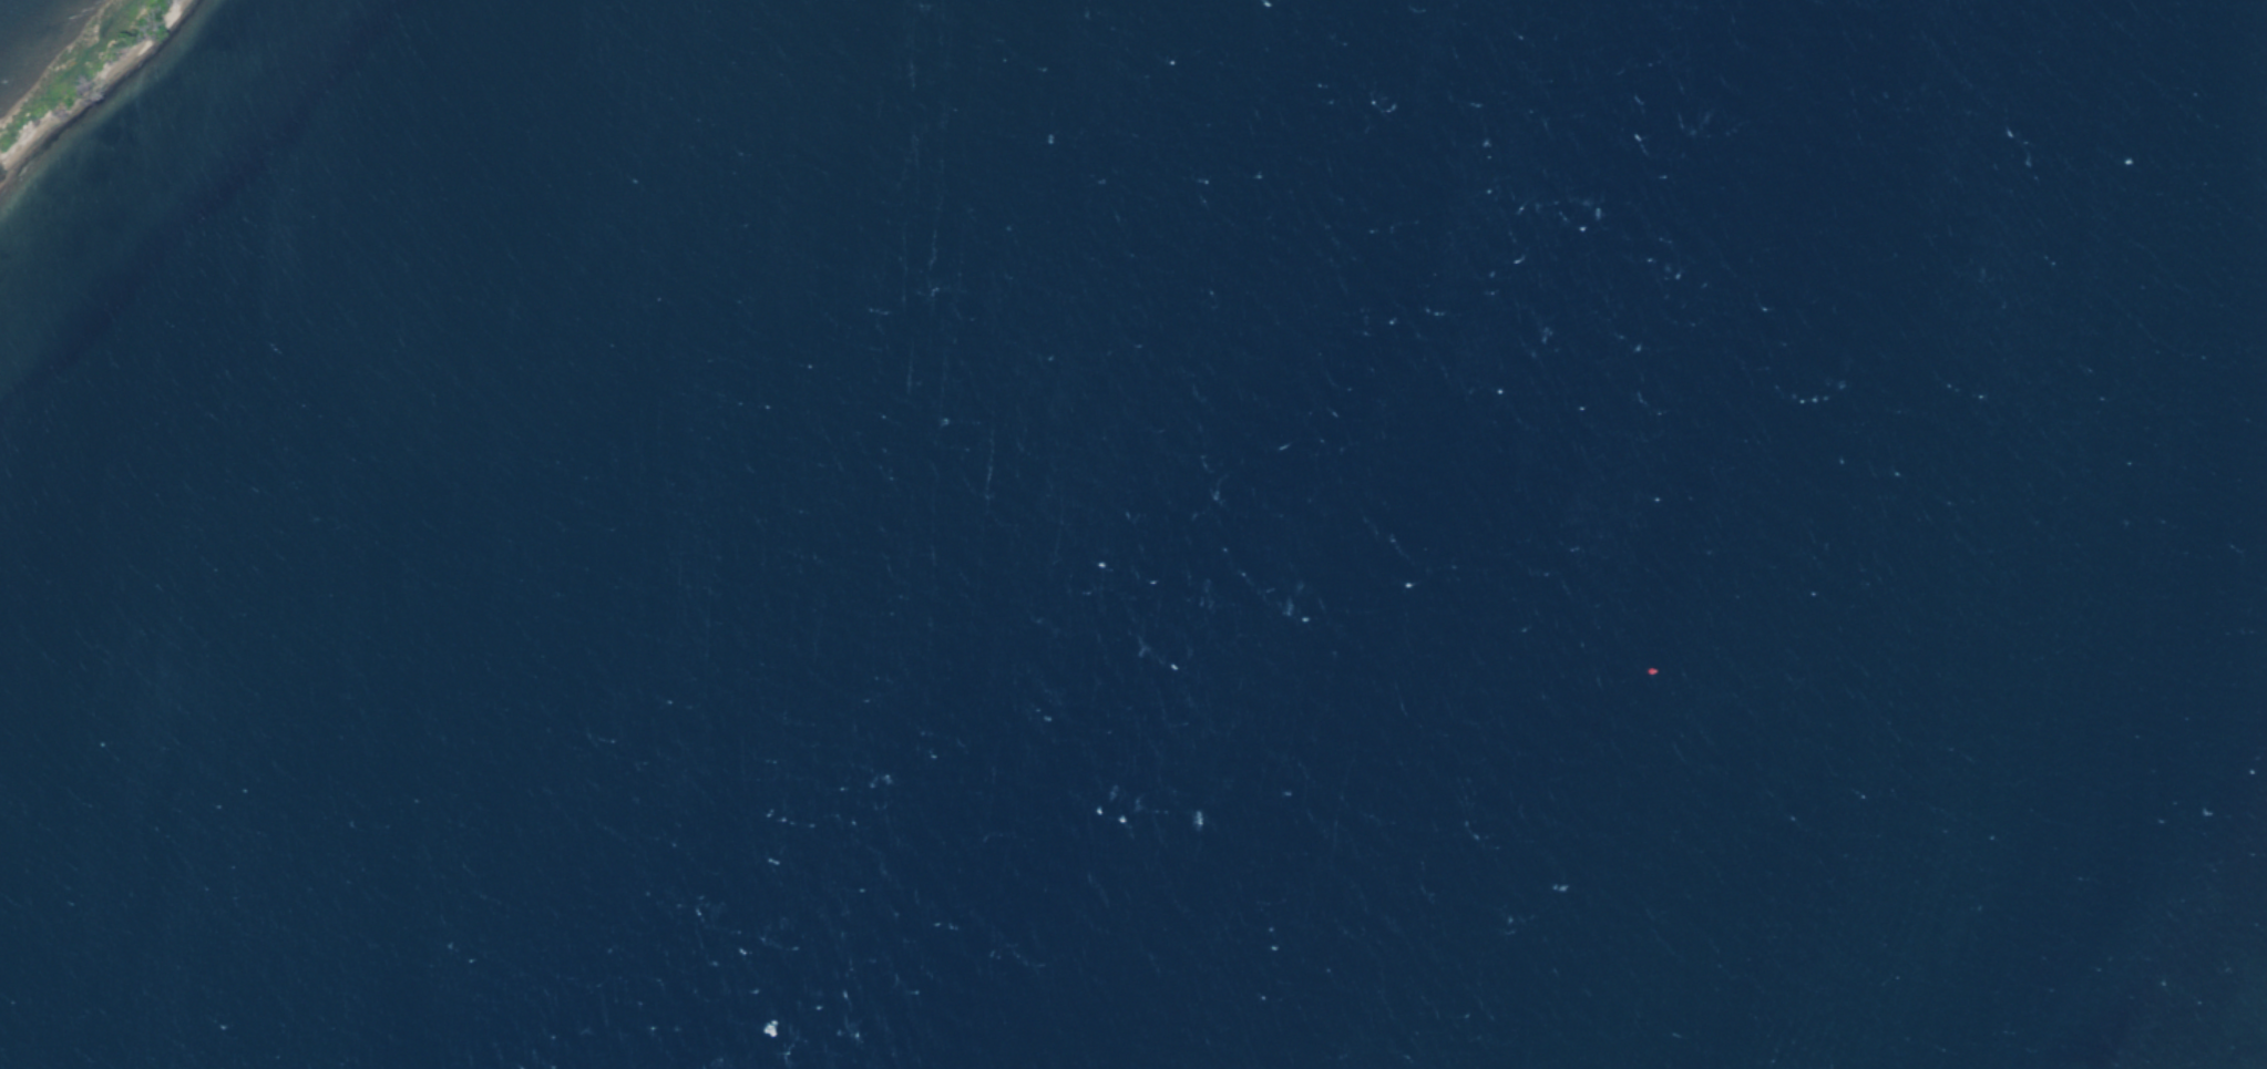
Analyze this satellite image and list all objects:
river: (1443, 552)

